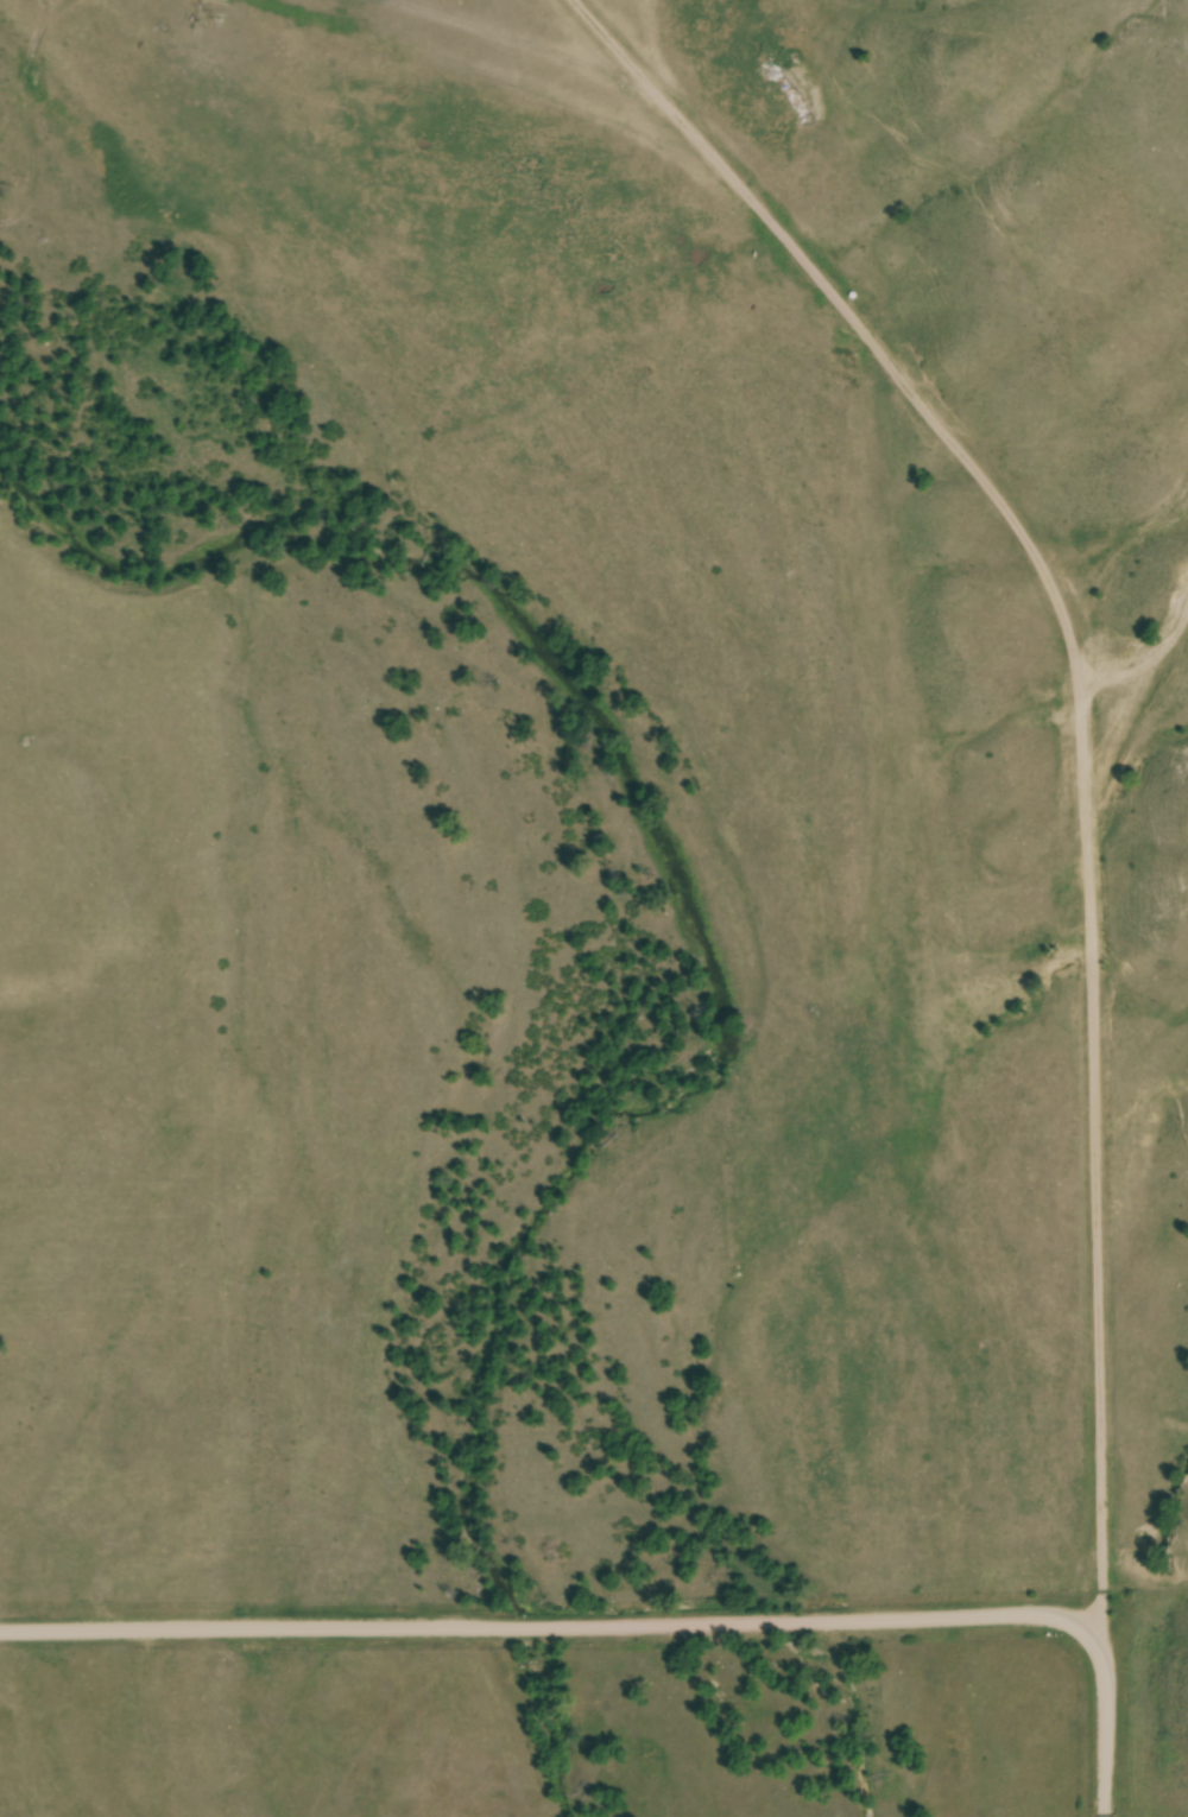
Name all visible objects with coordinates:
road: (1112, 1270)
road: (549, 1623)

